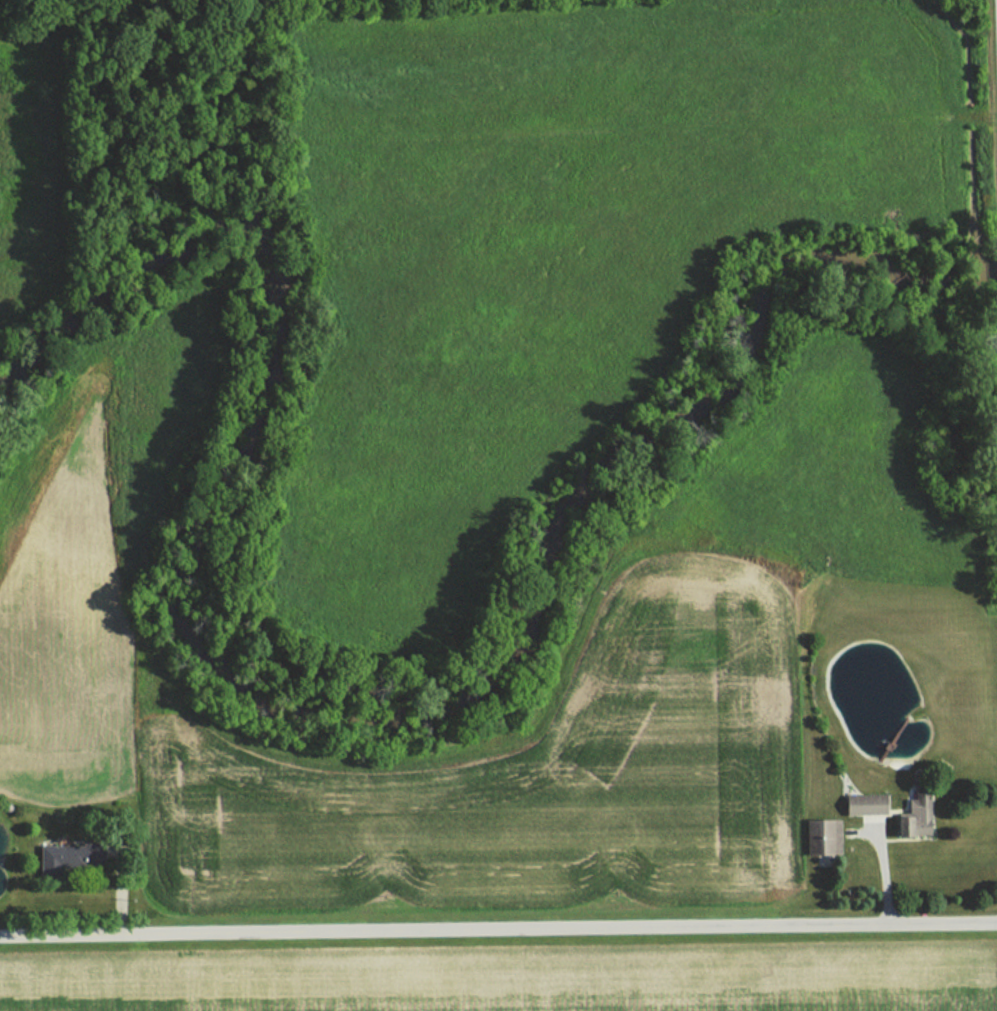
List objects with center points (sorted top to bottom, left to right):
crop: (562, 239)
building: (867, 805)
building: (823, 838)
building: (71, 859)
road: (498, 929)
crop: (515, 984)

